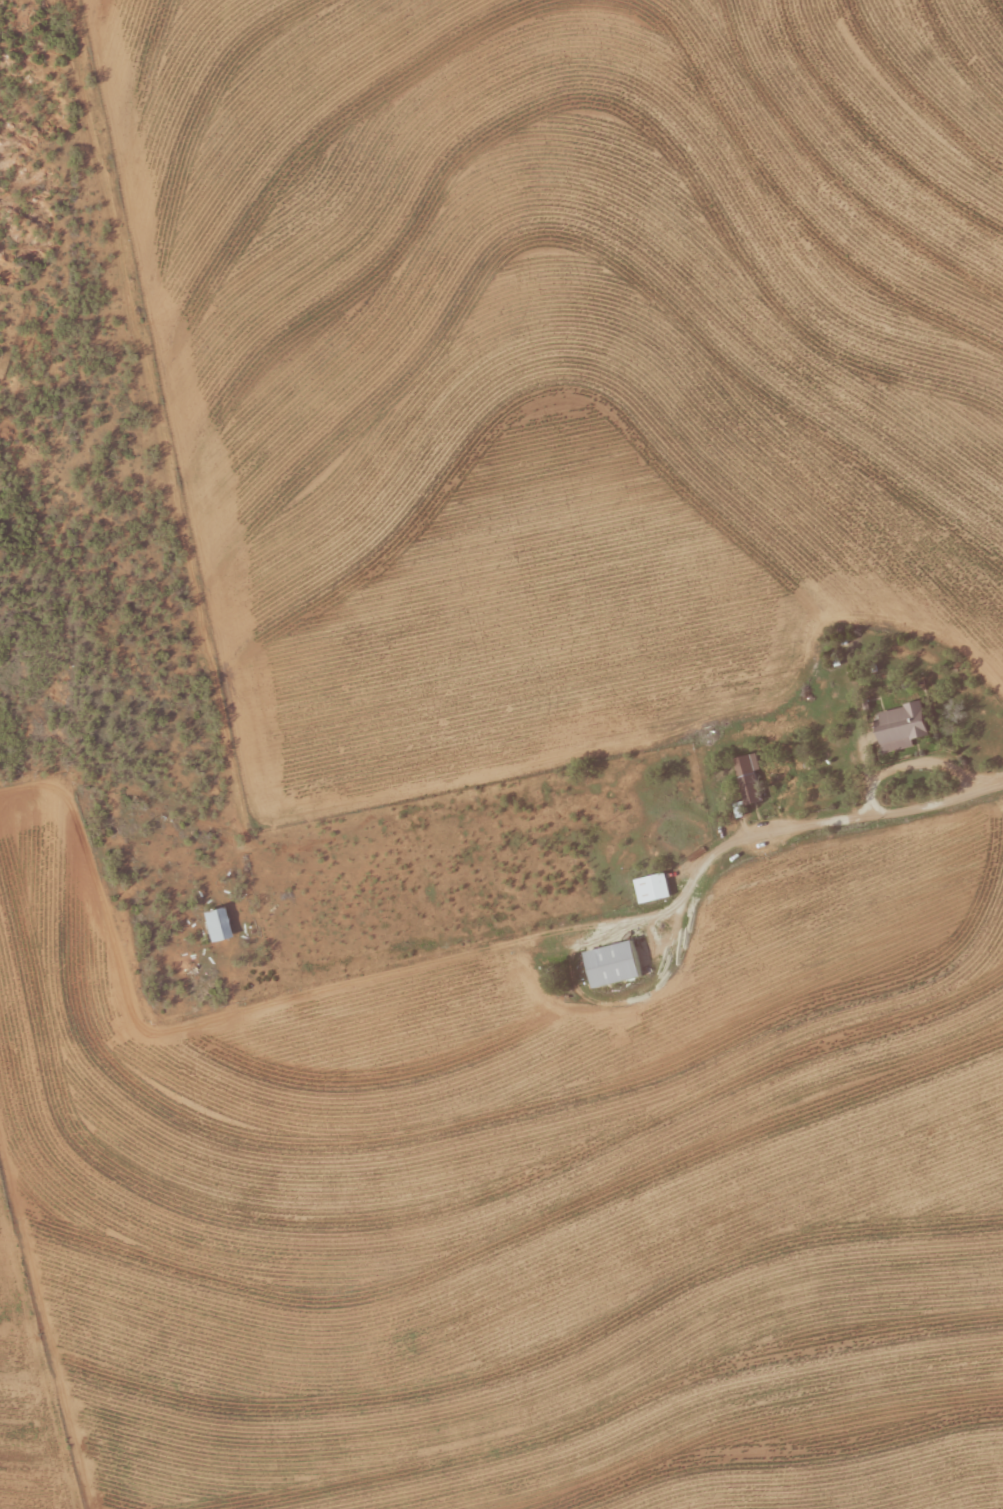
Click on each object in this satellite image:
road: (129, 414)
building: (899, 724)
road: (848, 801)
road: (685, 830)
building: (651, 888)
building: (213, 924)
building: (610, 964)
road: (678, 1040)

